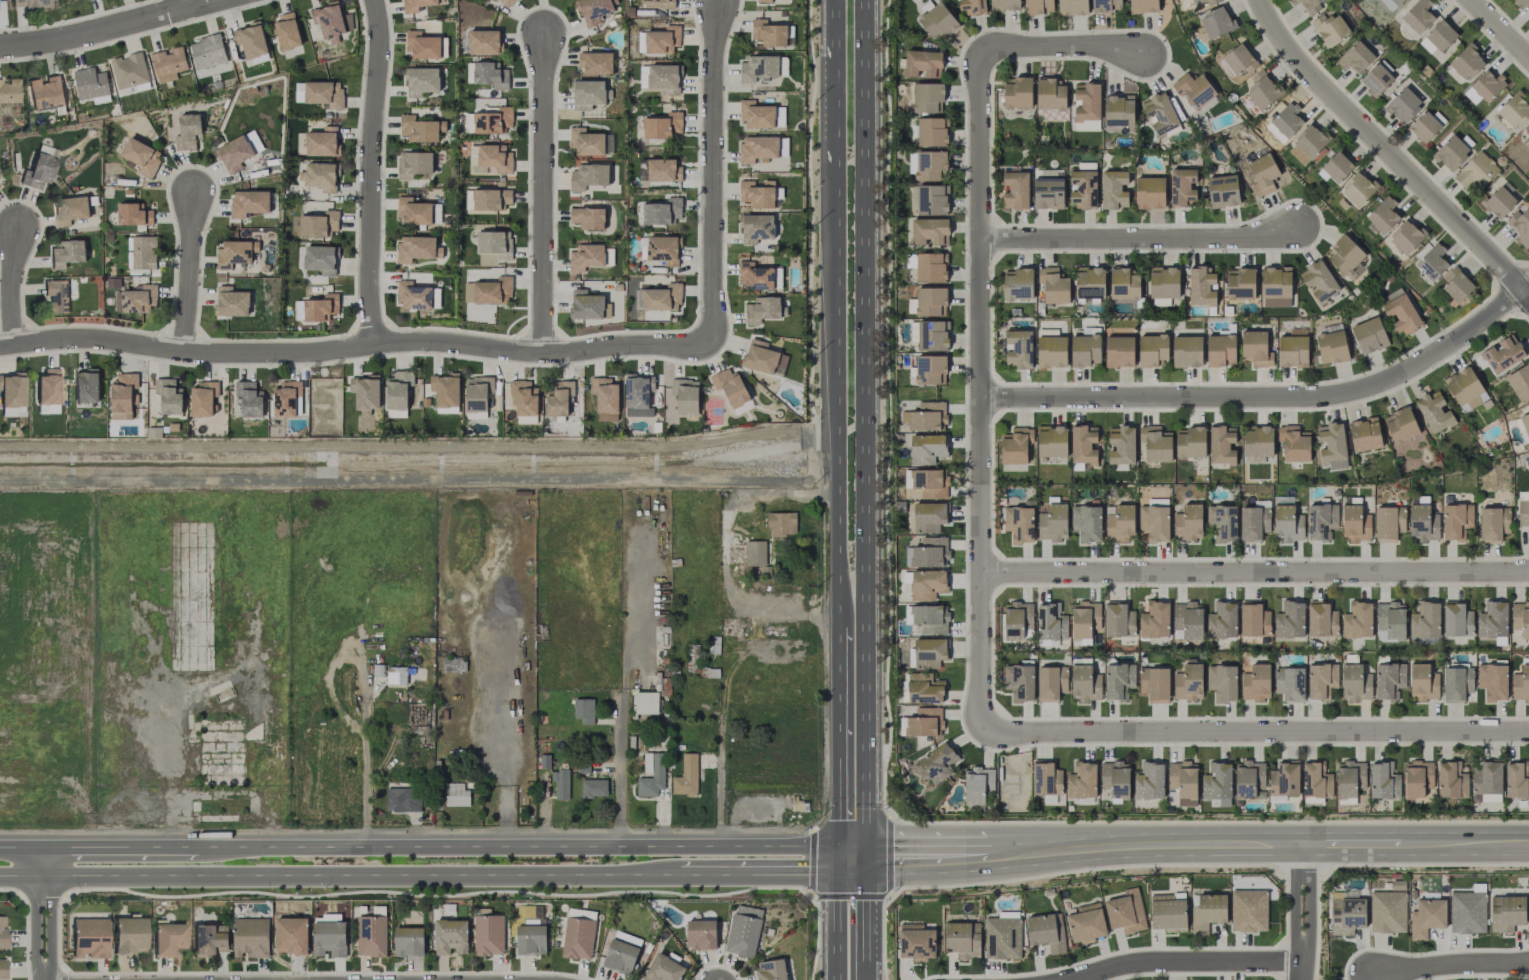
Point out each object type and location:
building: (764, 1)
building: (507, 2)
building: (1199, 2)
building: (30, 3)
building: (1521, 3)
building: (657, 4)
building: (1309, 4)
building: (1391, 4)
road: (187, 5)
building: (415, 5)
building: (1005, 5)
building: (1104, 5)
building: (1038, 6)
building: (1143, 6)
building: (972, 7)
building: (1072, 7)
building: (593, 10)
building: (1418, 16)
building: (328, 20)
building: (938, 20)
building: (1217, 22)
road: (1500, 27)
road: (113, 28)
building: (1330, 29)
building: (287, 31)
building: (769, 33)
building: (1438, 37)
building: (251, 40)
building: (662, 40)
building: (641, 41)
building: (483, 42)
road: (1061, 44)
building: (422, 45)
building: (207, 52)
building: (1355, 57)
building: (1236, 61)
building: (1467, 62)
building: (168, 63)
building: (596, 63)
building: (923, 63)
building: (758, 68)
building: (129, 70)
building: (487, 75)
building: (659, 78)
building: (1377, 78)
building: (421, 81)
building: (91, 85)
building: (1485, 87)
building: (1195, 90)
building: (1262, 90)
building: (9, 91)
building: (299, 92)
building: (1017, 92)
building: (45, 93)
building: (324, 94)
building: (588, 94)
building: (1050, 95)
building: (927, 97)
road: (836, 99)
building: (1087, 101)
building: (1403, 105)
building: (1119, 111)
building: (1512, 111)
building: (1160, 114)
building: (756, 115)
building: (1287, 120)
building: (492, 121)
building: (1528, 122)
building: (1426, 125)
building: (662, 126)
building: (420, 129)
building: (186, 131)
building: (931, 132)
building: (1528, 135)
building: (321, 141)
building: (1307, 144)
building: (758, 149)
road: (1389, 152)
building: (234, 153)
building: (1451, 153)
building: (141, 156)
building: (489, 159)
building: (414, 164)
building: (927, 164)
building: (1335, 167)
building: (39, 169)
building: (663, 169)
building: (1476, 171)
road: (376, 172)
road: (716, 174)
building: (1262, 174)
building: (319, 176)
building: (587, 176)
building: (1182, 186)
building: (1048, 188)
building: (1114, 189)
building: (1358, 189)
building: (1016, 190)
building: (1083, 190)
building: (1223, 191)
road: (543, 192)
building: (1150, 192)
building: (758, 193)
building: (491, 199)
building: (933, 199)
building: (249, 202)
building: (1499, 202)
building: (70, 210)
building: (662, 211)
building: (414, 212)
building: (133, 215)
building: (1383, 215)
building: (588, 218)
building: (320, 224)
building: (1520, 226)
building: (756, 228)
building: (928, 231)
building: (1406, 237)
road: (1137, 238)
building: (495, 243)
building: (414, 248)
building: (663, 249)
building: (142, 251)
building: (67, 253)
building: (235, 253)
building: (1345, 254)
building: (586, 257)
building: (320, 259)
building: (1432, 262)
building: (931, 267)
road: (188, 271)
building: (754, 276)
building: (1318, 281)
building: (1164, 282)
building: (1017, 283)
building: (1089, 283)
building: (1240, 283)
building: (1123, 284)
building: (1054, 285)
building: (1457, 285)
road: (11, 287)
building: (1202, 287)
building: (1276, 287)
building: (488, 291)
building: (56, 295)
building: (412, 295)
building: (660, 297)
building: (136, 299)
building: (231, 301)
building: (931, 301)
building: (586, 305)
building: (320, 307)
building: (762, 310)
building: (1402, 313)
building: (1369, 335)
road: (355, 346)
building: (1332, 347)
building: (1256, 348)
building: (1019, 349)
building: (1085, 350)
building: (1152, 350)
building: (1221, 350)
building: (1119, 351)
building: (1187, 351)
building: (1292, 351)
building: (1052, 352)
building: (1503, 353)
building: (764, 358)
building: (930, 369)
building: (1519, 382)
building: (86, 386)
building: (730, 386)
road: (979, 386)
building: (47, 387)
building: (445, 389)
building: (1465, 389)
building: (11, 391)
building: (365, 393)
building: (397, 393)
building: (122, 395)
building: (638, 395)
building: (685, 395)
building: (168, 396)
road: (1270, 396)
building: (479, 397)
building: (202, 398)
building: (523, 398)
building: (558, 398)
building: (605, 398)
building: (249, 399)
building: (285, 399)
road: (839, 408)
building: (1434, 412)
building: (926, 416)
building: (1525, 423)
building: (1400, 425)
building: (1364, 434)
road: (867, 438)
building: (1052, 441)
building: (1190, 442)
building: (1257, 443)
building: (1083, 444)
building: (1155, 444)
building: (1294, 444)
building: (1015, 445)
building: (1121, 445)
building: (1222, 445)
building: (1332, 445)
building: (927, 449)
building: (927, 482)
building: (1523, 512)
building: (929, 517)
building: (1155, 519)
building: (1456, 520)
building: (1053, 521)
building: (1321, 521)
building: (1087, 522)
building: (1188, 522)
building: (782, 523)
building: (1019, 523)
building: (1120, 523)
building: (1222, 523)
building: (1254, 523)
building: (1389, 523)
building: (1493, 523)
building: (1287, 524)
building: (1355, 524)
building: (928, 552)
road: (725, 553)
building: (759, 553)
road: (1254, 570)
building: (927, 584)
building: (1520, 618)
building: (929, 619)
building: (1017, 619)
building: (1321, 619)
building: (1457, 619)
building: (1119, 620)
building: (1155, 620)
building: (1187, 620)
building: (1254, 620)
building: (1290, 620)
building: (1357, 620)
building: (1425, 620)
building: (1085, 621)
building: (1223, 621)
building: (1390, 621)
building: (1051, 622)
building: (1493, 622)
building: (929, 652)
building: (396, 675)
building: (1118, 679)
building: (1321, 680)
building: (1389, 680)
building: (1493, 681)
building: (1019, 682)
building: (1188, 682)
building: (1223, 682)
building: (1256, 682)
building: (1423, 682)
building: (1051, 683)
building: (1085, 683)
building: (1290, 683)
building: (1355, 683)
building: (1155, 684)
building: (1457, 684)
building: (1520, 684)
building: (924, 688)
building: (645, 702)
building: (584, 710)
building: (925, 722)
road: (1254, 729)
road: (365, 743)
road: (840, 747)
building: (938, 762)
building: (582, 769)
road: (621, 773)
building: (651, 775)
building: (686, 776)
road: (719, 776)
building: (1046, 778)
building: (1115, 778)
building: (1417, 778)
building: (1487, 778)
building: (1249, 779)
building: (1284, 779)
building: (1451, 780)
building: (1516, 780)
building: (1082, 781)
building: (1150, 781)
building: (1184, 781)
building: (1384, 781)
building: (1316, 783)
building: (561, 784)
building: (1218, 784)
building: (978, 785)
building: (594, 788)
building: (456, 795)
building: (1490, 798)
building: (403, 799)
road: (1208, 821)
road: (1352, 845)
road: (1465, 845)
road: (546, 846)
road: (117, 847)
road: (1144, 847)
road: (19, 848)
road: (942, 856)
road: (1425, 864)
road: (1299, 867)
road: (1081, 869)
road: (793, 875)
road: (342, 876)
road: (855, 893)
building: (1249, 910)
building: (1208, 911)
building: (1126, 912)
building: (1168, 912)
building: (1388, 912)
building: (1467, 912)
road: (1302, 913)
building: (1506, 913)
road: (40, 914)
building: (1346, 916)
building: (1427, 917)
building: (1086, 923)
road: (835, 927)
road: (866, 928)
building: (744, 931)
building: (1045, 933)
building: (701, 934)
building: (127, 935)
building: (291, 935)
building: (329, 935)
building: (371, 936)
building: (450, 936)
building: (1003, 936)
building: (89, 937)
building: (250, 937)
building: (2, 938)
building: (167, 938)
building: (531, 938)
building: (578, 938)
building: (210, 939)
building: (963, 939)
building: (408, 942)
building: (916, 942)
building: (620, 956)
road: (1181, 961)
road: (1451, 965)
building: (1, 969)
building: (663, 969)
building: (771, 970)

